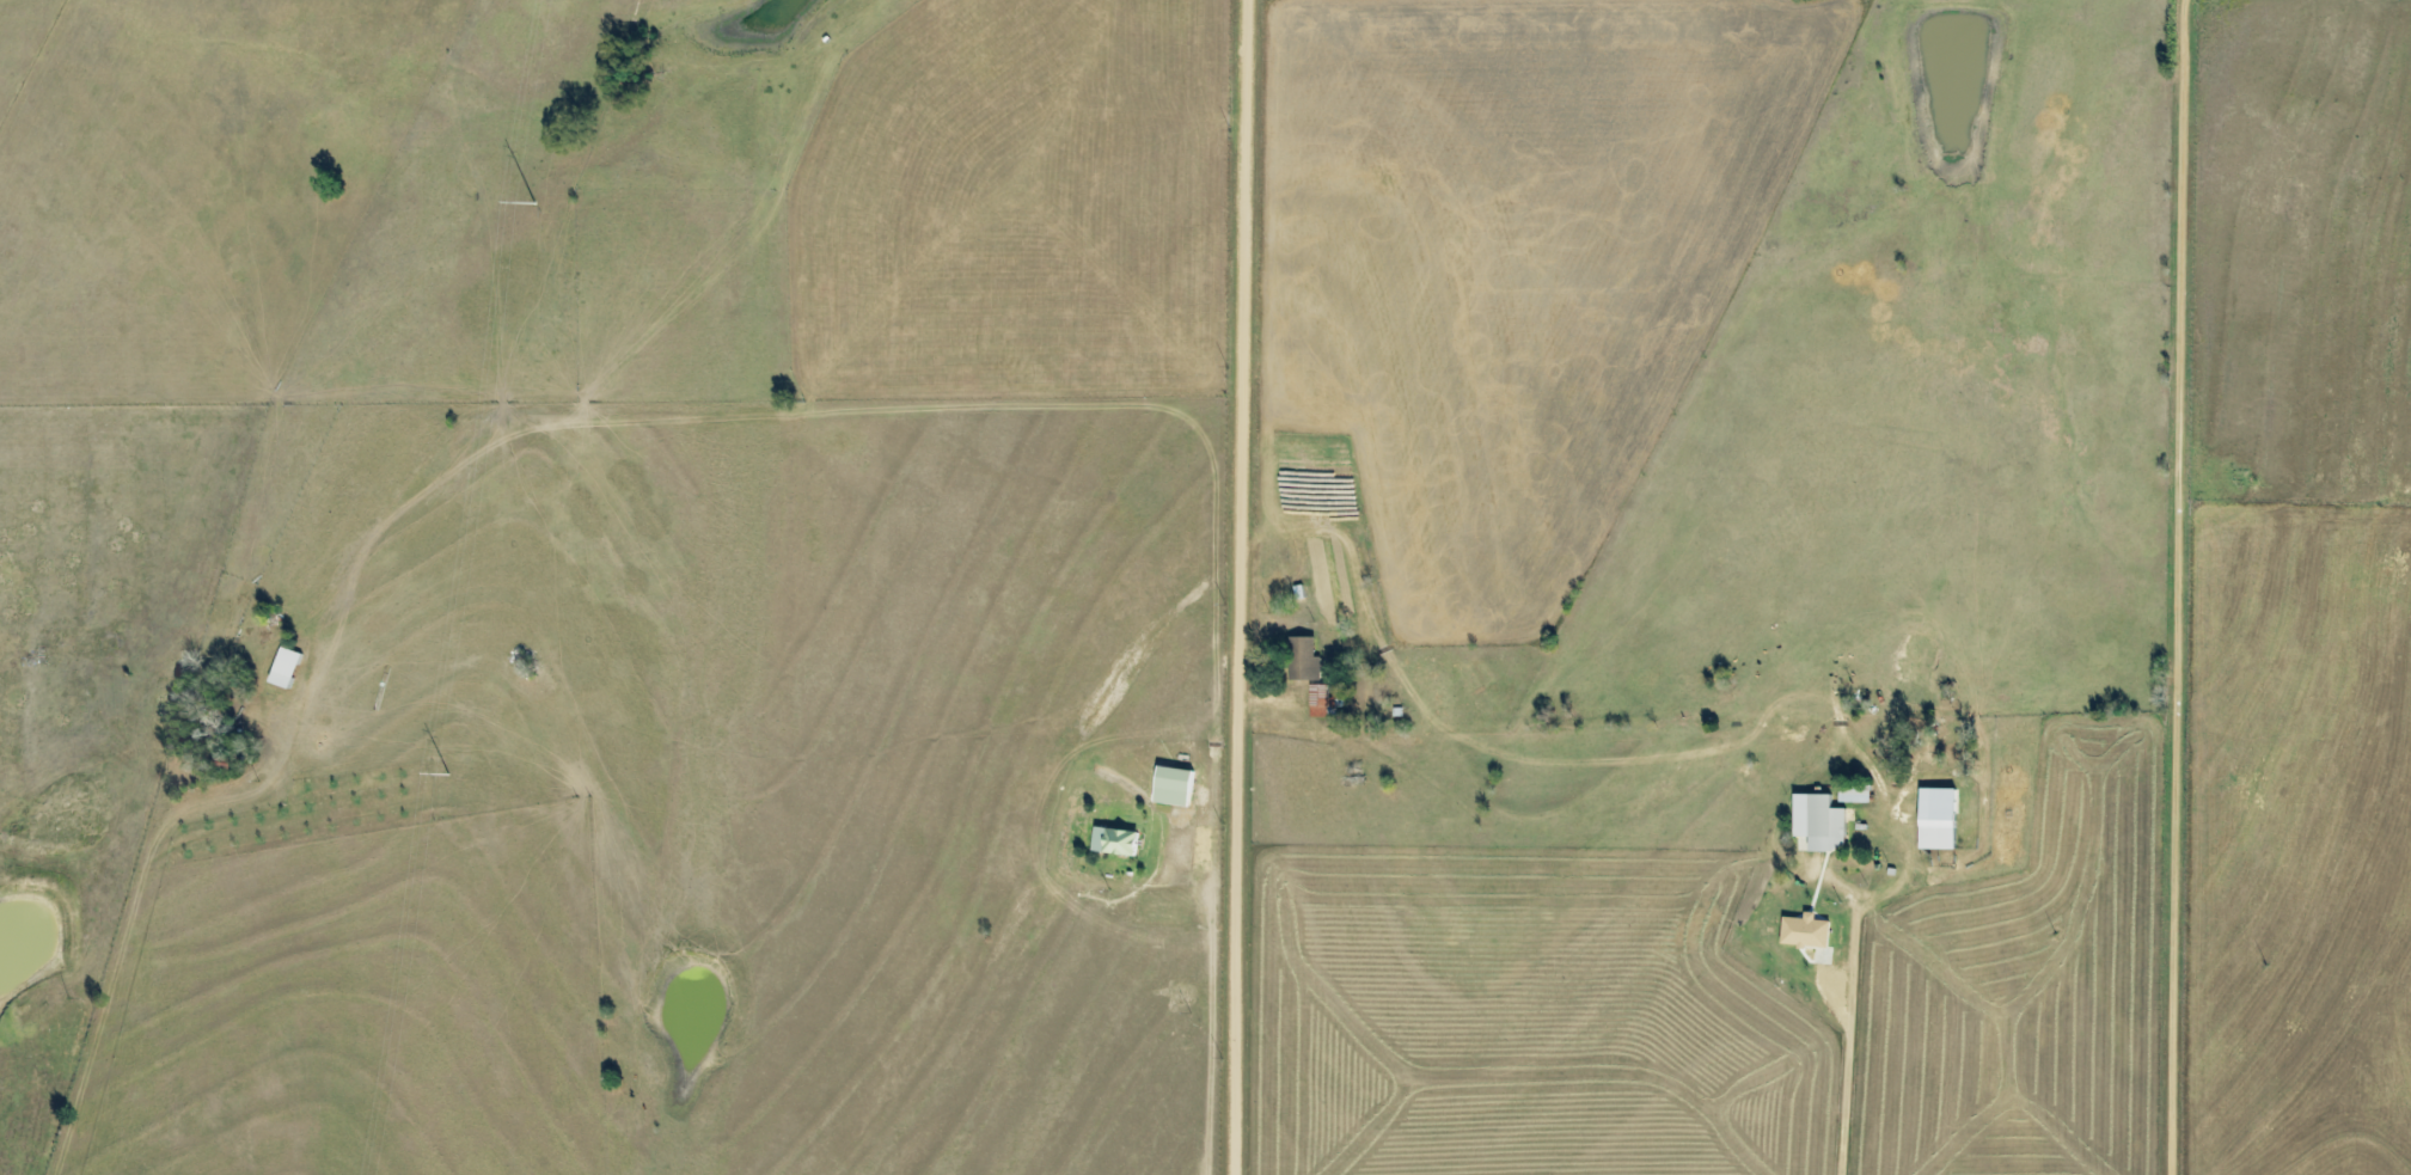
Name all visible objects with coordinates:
power tower: (534, 204)
road: (1375, 374)
road: (2196, 503)
road: (1247, 587)
building: (1304, 659)
building: (283, 667)
power tower: (448, 776)
building: (1173, 785)
building: (1854, 792)
building: (1936, 818)
building: (1819, 821)
building: (1115, 840)
building: (1805, 930)
road: (109, 962)
road: (1687, 1040)

